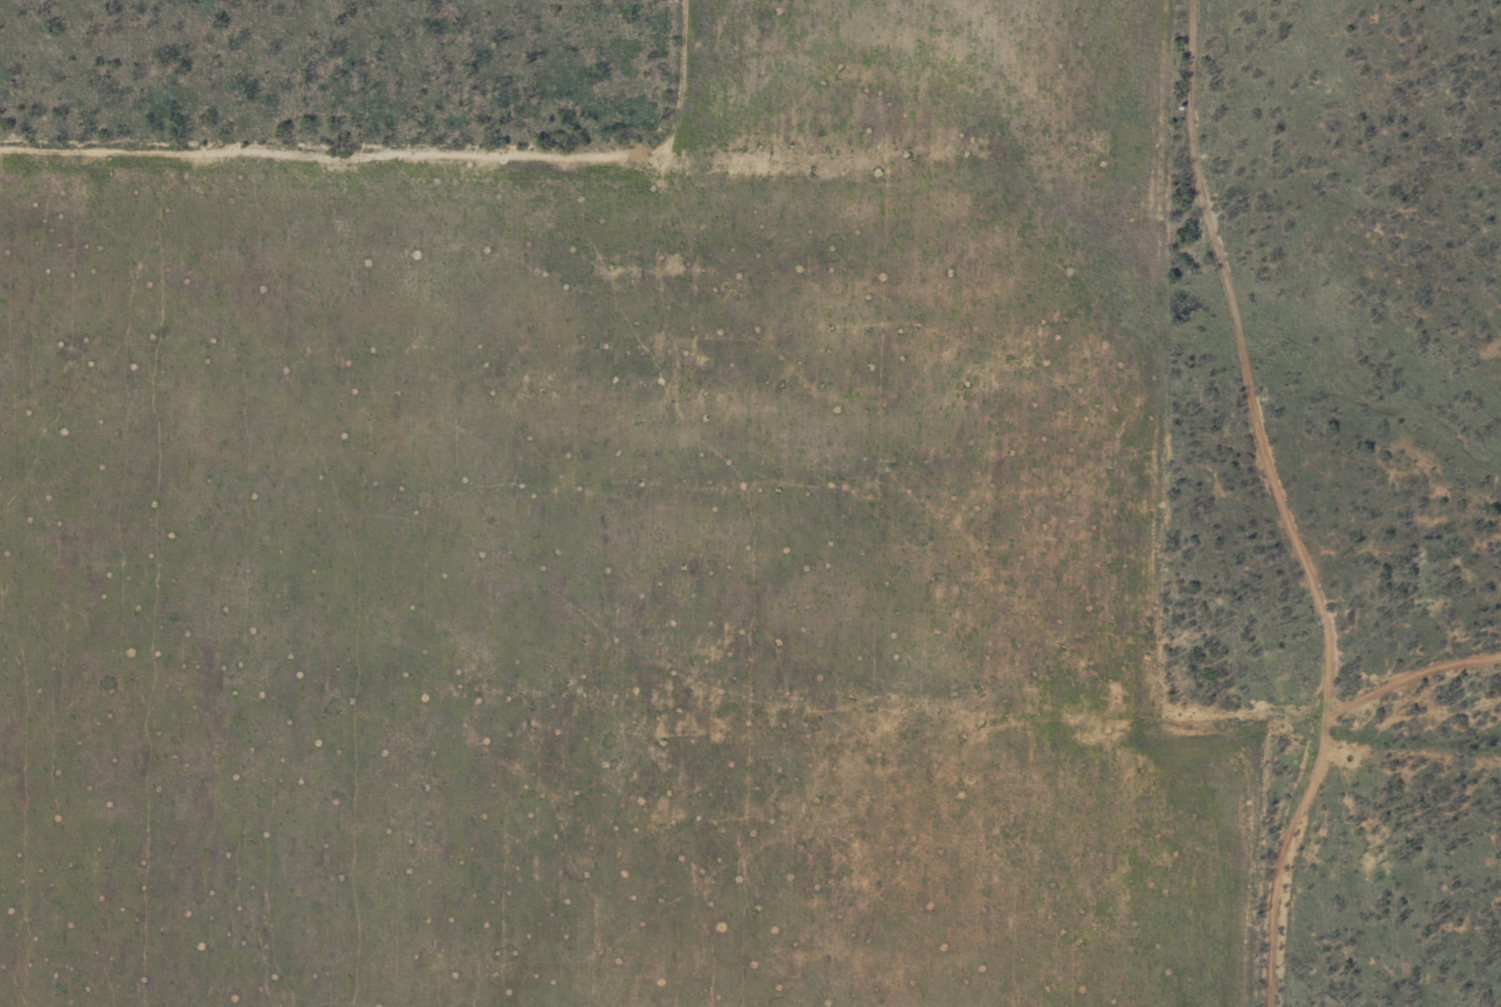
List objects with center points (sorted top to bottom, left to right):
road: (1261, 505)
road: (1407, 676)

